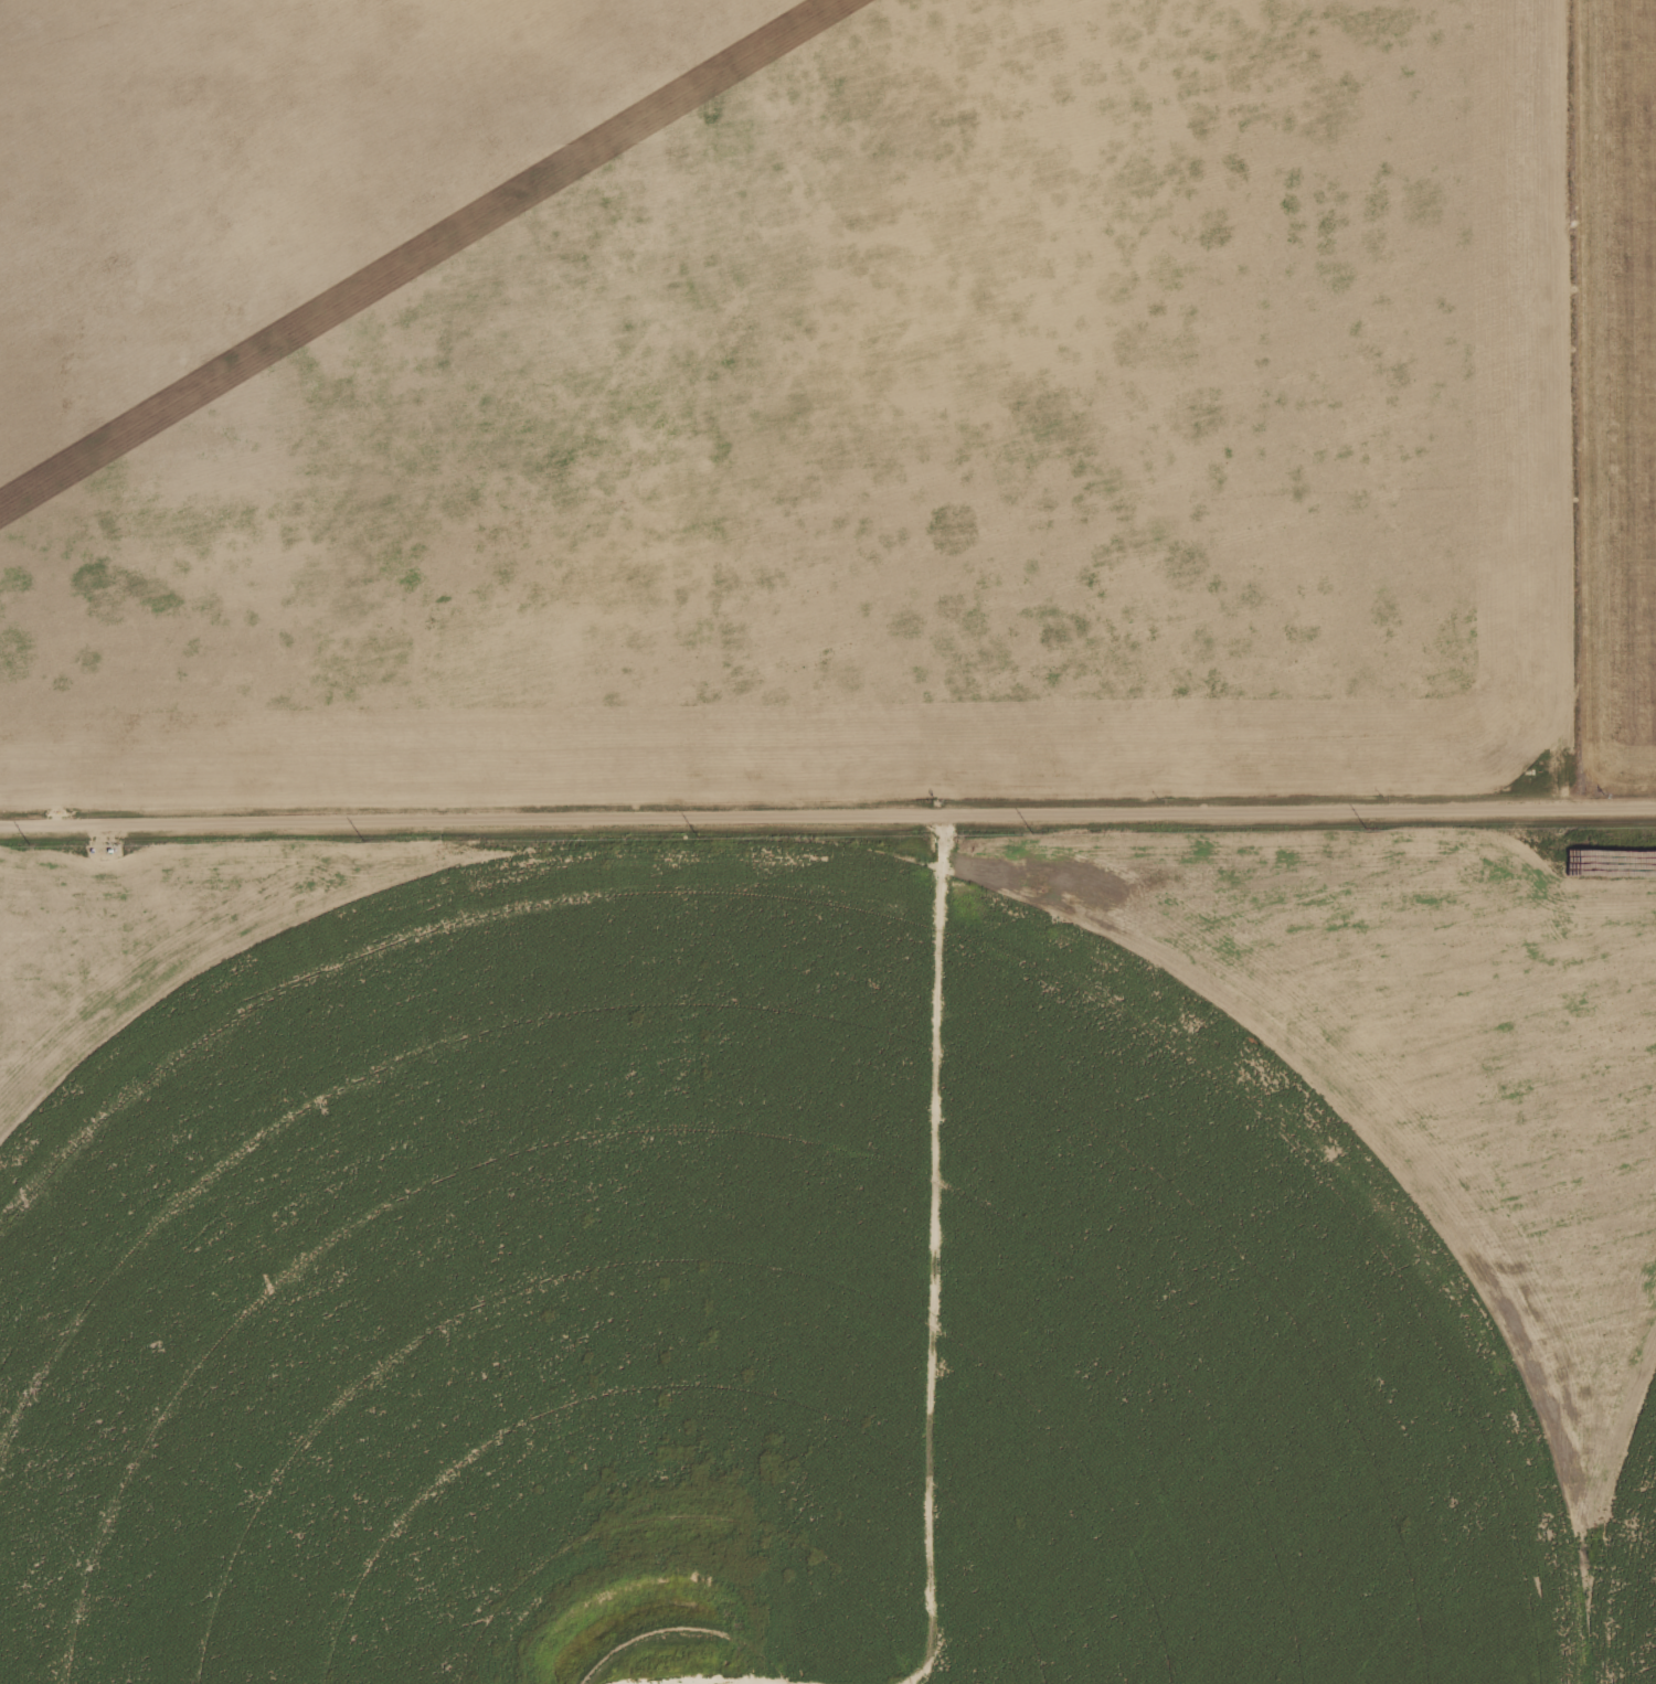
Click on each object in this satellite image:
road: (828, 817)

